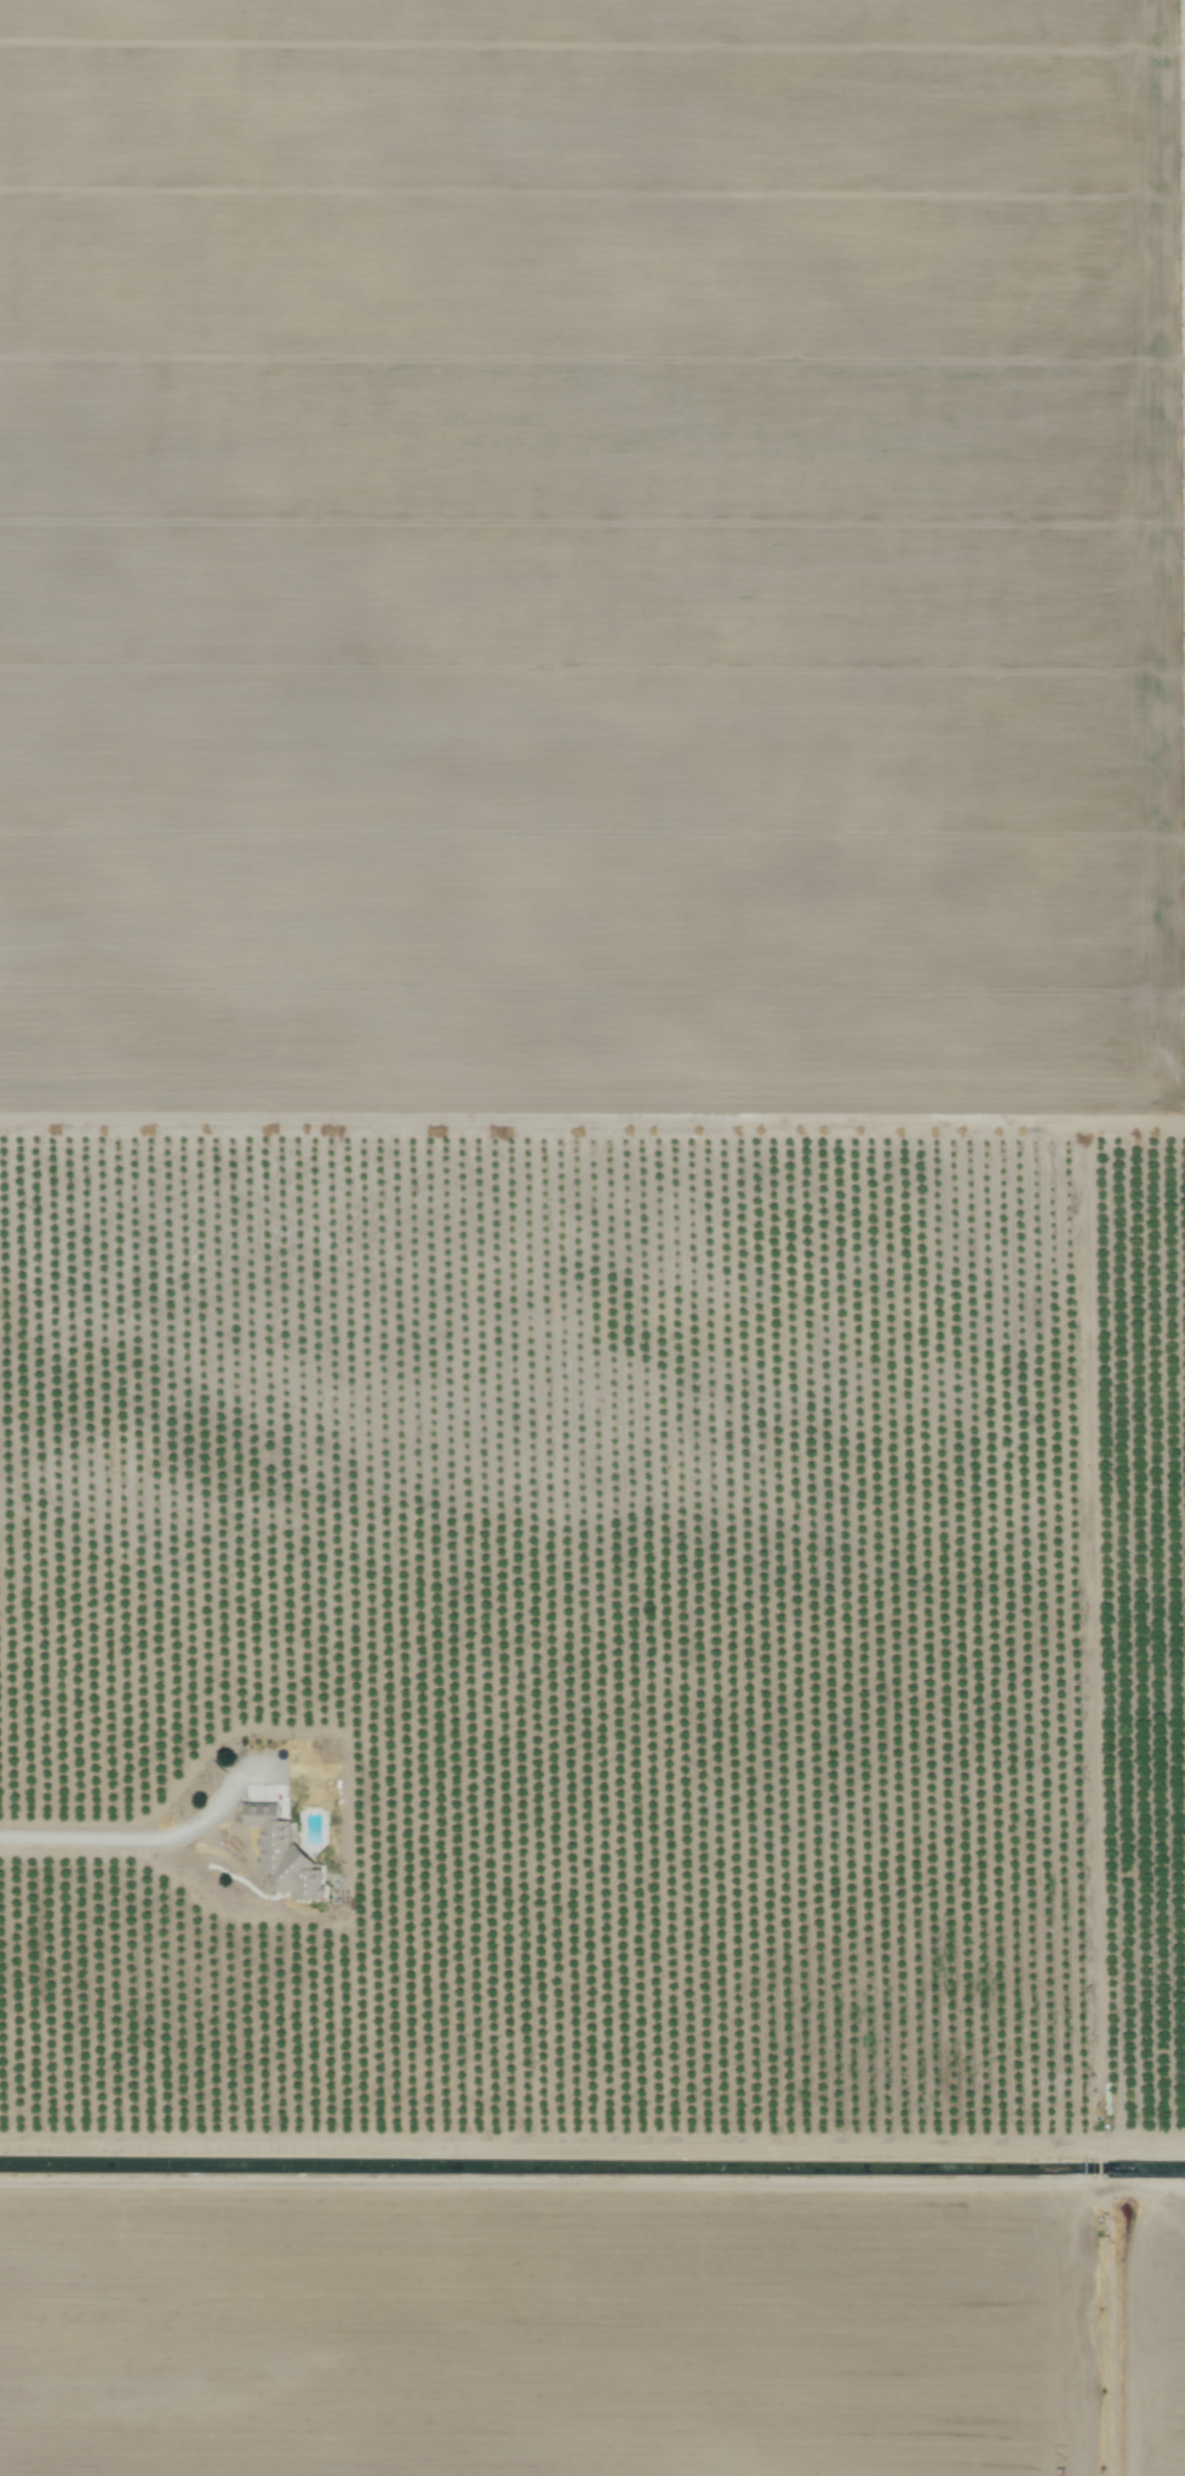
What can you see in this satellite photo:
road: (144, 1831)

